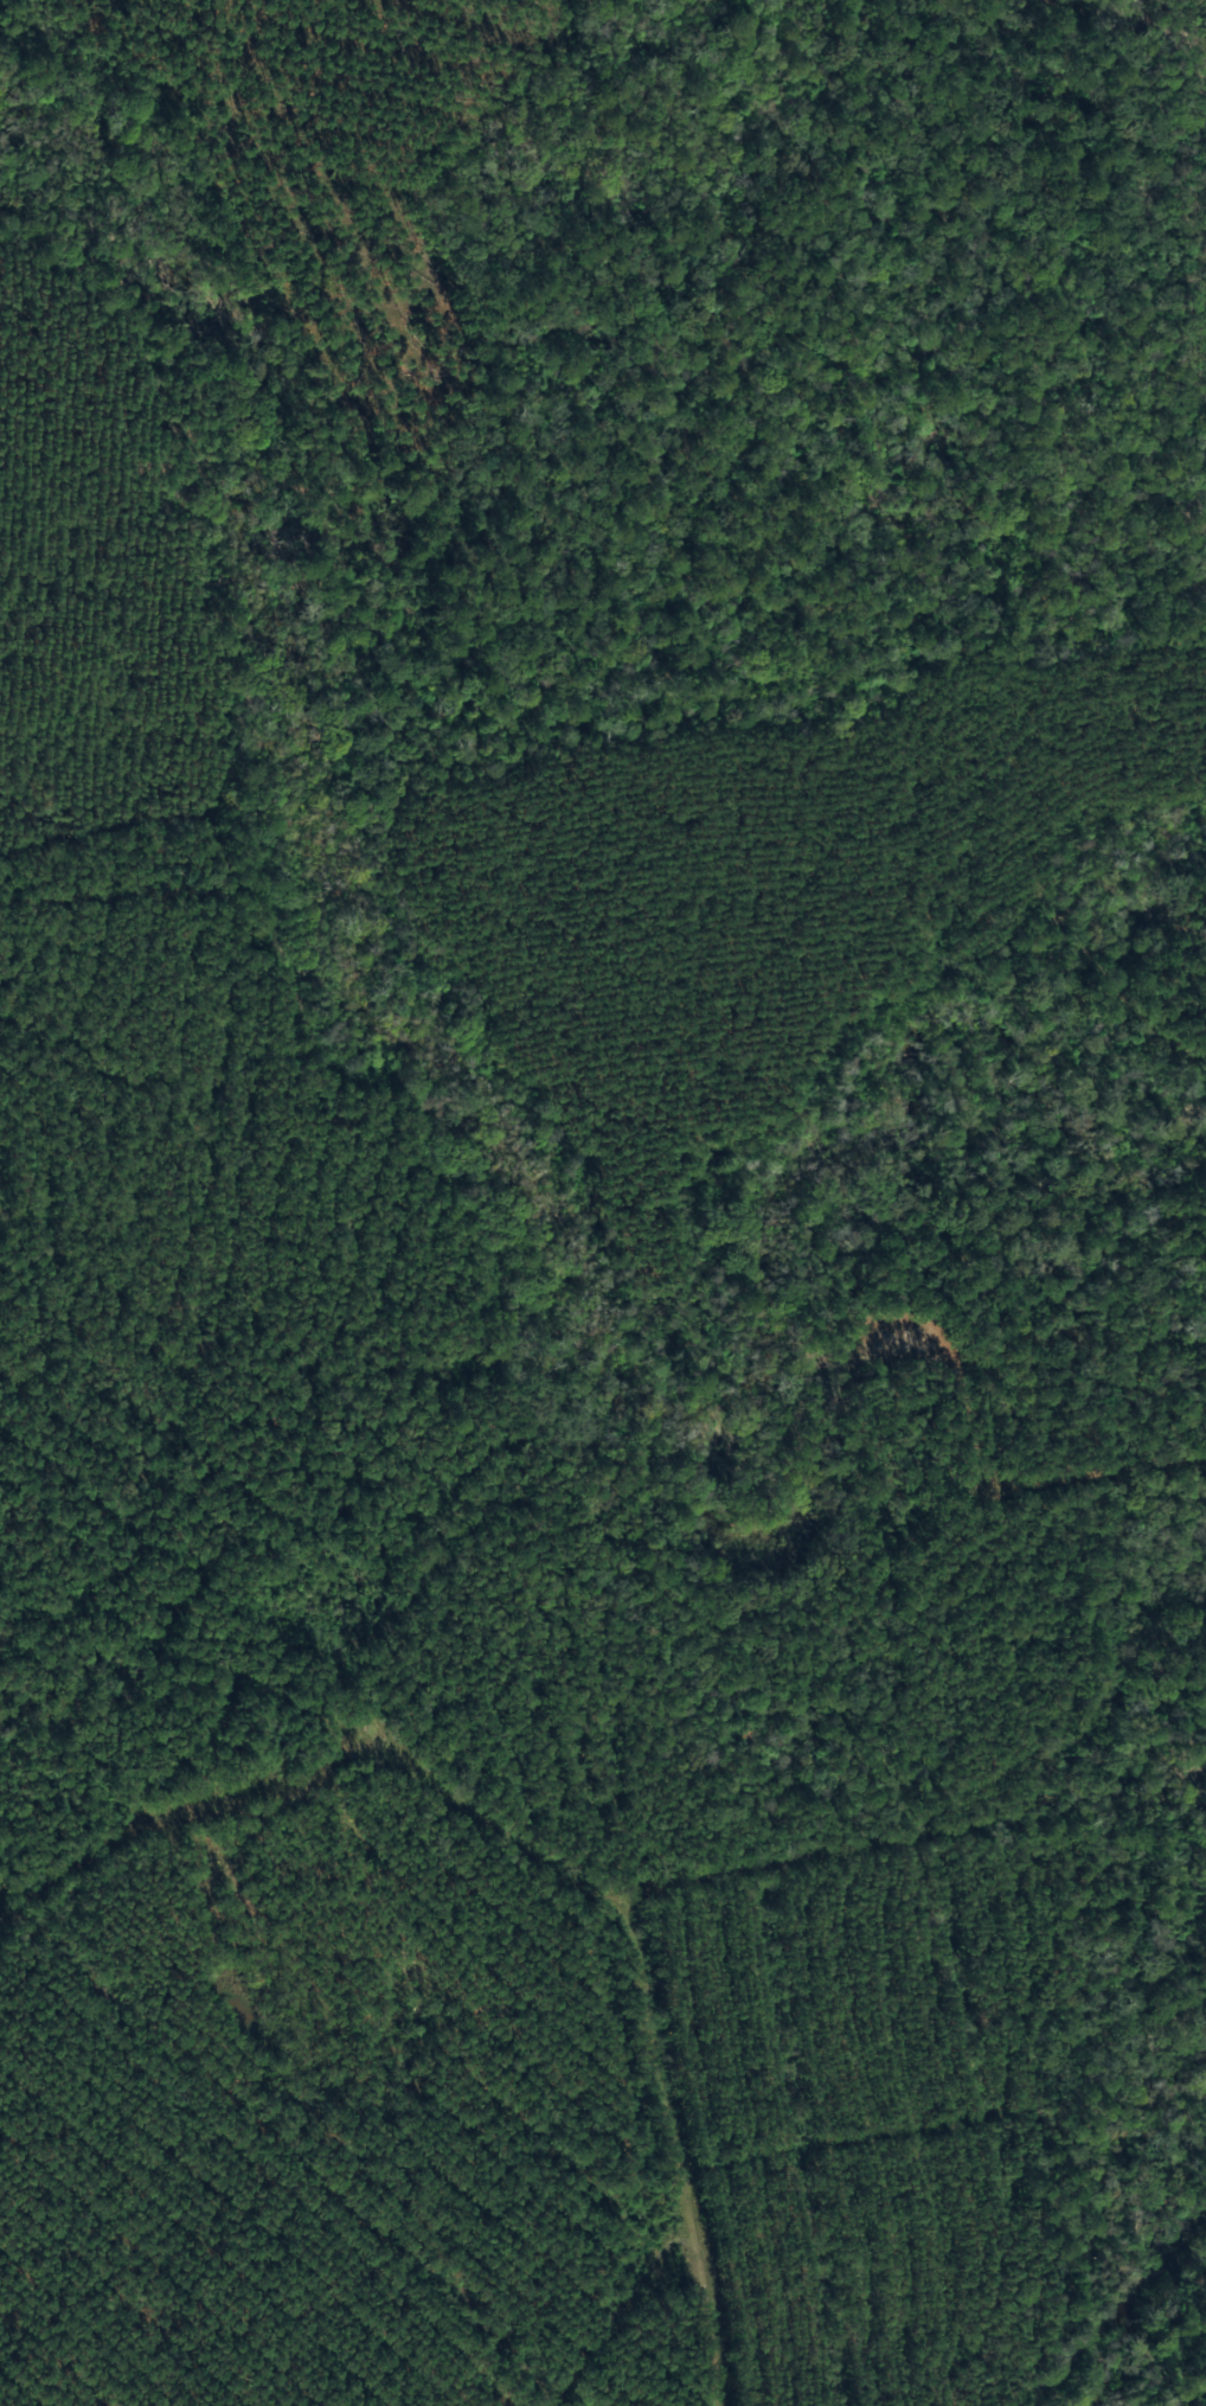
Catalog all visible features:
road: (1038, 1458)
road: (607, 1940)

